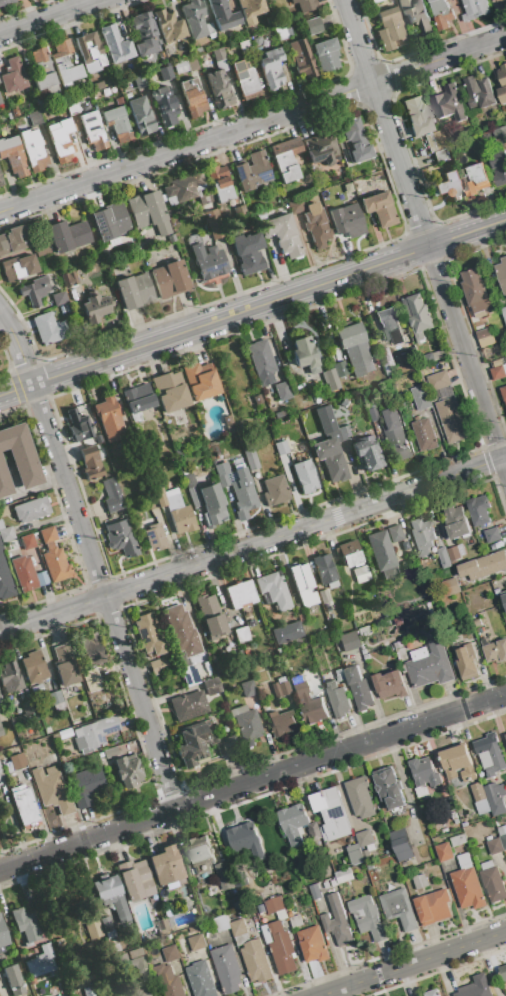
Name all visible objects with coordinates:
building: (5, 1)
building: (374, 1)
building: (502, 1)
building: (305, 4)
building: (251, 7)
building: (475, 9)
building: (442, 14)
building: (223, 15)
building: (416, 15)
road: (46, 16)
building: (194, 18)
building: (312, 25)
building: (168, 26)
building: (389, 29)
building: (210, 30)
building: (144, 33)
building: (256, 41)
building: (115, 44)
building: (243, 45)
building: (198, 50)
building: (90, 52)
building: (218, 54)
building: (326, 54)
building: (301, 57)
building: (64, 63)
building: (192, 63)
building: (180, 66)
building: (42, 68)
building: (271, 68)
building: (165, 73)
building: (13, 76)
building: (245, 79)
building: (139, 82)
building: (97, 85)
building: (502, 85)
building: (219, 89)
building: (480, 93)
building: (192, 97)
building: (41, 103)
building: (450, 103)
building: (164, 105)
building: (72, 107)
building: (13, 110)
building: (8, 115)
building: (140, 115)
building: (417, 115)
building: (34, 117)
building: (117, 122)
road: (252, 122)
building: (92, 130)
building: (501, 135)
building: (60, 140)
building: (434, 140)
building: (356, 141)
building: (321, 149)
building: (32, 150)
building: (13, 155)
building: (440, 155)
building: (286, 158)
building: (425, 160)
building: (499, 168)
building: (252, 170)
building: (474, 180)
building: (1, 181)
building: (219, 183)
building: (184, 185)
building: (447, 186)
building: (295, 205)
building: (379, 208)
building: (173, 211)
building: (148, 212)
building: (347, 220)
building: (110, 221)
building: (214, 223)
building: (316, 225)
road: (466, 232)
building: (282, 234)
building: (67, 235)
road: (423, 236)
building: (13, 239)
building: (168, 239)
building: (41, 248)
building: (248, 252)
building: (208, 261)
building: (18, 267)
building: (502, 273)
building: (68, 278)
building: (169, 278)
building: (34, 290)
building: (133, 290)
building: (476, 292)
building: (59, 298)
building: (95, 307)
building: (504, 313)
building: (418, 316)
road: (213, 320)
building: (389, 325)
building: (47, 328)
building: (485, 338)
building: (353, 344)
building: (303, 352)
building: (438, 356)
building: (261, 361)
building: (504, 361)
building: (505, 368)
building: (498, 373)
building: (334, 374)
building: (439, 381)
building: (200, 382)
building: (282, 390)
building: (169, 391)
building: (504, 394)
building: (138, 398)
building: (257, 398)
building: (421, 398)
building: (401, 406)
building: (374, 412)
building: (429, 412)
building: (451, 417)
building: (110, 418)
building: (325, 419)
building: (77, 426)
building: (344, 432)
building: (395, 435)
building: (425, 436)
building: (381, 437)
building: (280, 447)
building: (368, 453)
building: (20, 454)
building: (250, 458)
building: (330, 459)
building: (91, 465)
building: (304, 476)
building: (4, 480)
building: (237, 487)
building: (191, 489)
building: (274, 490)
building: (111, 495)
building: (159, 496)
building: (212, 504)
building: (152, 506)
building: (31, 509)
building: (3, 511)
building: (479, 511)
building: (179, 512)
building: (456, 523)
building: (1, 524)
building: (394, 533)
building: (6, 534)
building: (422, 536)
building: (492, 536)
building: (154, 537)
building: (120, 538)
building: (22, 543)
road: (253, 544)
building: (1, 545)
building: (349, 553)
building: (456, 554)
building: (381, 555)
building: (53, 557)
building: (444, 558)
road: (92, 561)
building: (483, 566)
building: (324, 570)
building: (22, 573)
building: (360, 574)
building: (4, 580)
building: (302, 585)
building: (452, 586)
building: (273, 590)
building: (240, 594)
building: (323, 596)
building: (504, 600)
building: (328, 608)
building: (211, 616)
building: (300, 617)
building: (477, 624)
building: (365, 628)
building: (181, 633)
building: (287, 633)
building: (241, 634)
building: (148, 635)
building: (347, 641)
building: (398, 645)
building: (91, 650)
building: (494, 651)
building: (467, 663)
building: (64, 665)
building: (158, 665)
building: (219, 666)
building: (429, 666)
building: (34, 667)
building: (189, 675)
building: (339, 675)
building: (9, 677)
building: (91, 679)
building: (245, 682)
building: (390, 684)
building: (211, 686)
building: (280, 687)
building: (36, 689)
building: (359, 689)
building: (54, 697)
building: (337, 700)
building: (188, 705)
building: (309, 706)
building: (23, 710)
building: (280, 721)
building: (246, 725)
building: (1, 730)
building: (95, 732)
building: (505, 736)
building: (202, 744)
building: (109, 752)
building: (490, 755)
building: (14, 763)
building: (457, 764)
building: (127, 771)
building: (424, 773)
building: (1, 774)
road: (253, 783)
building: (86, 786)
building: (51, 790)
building: (389, 790)
building: (478, 793)
building: (360, 798)
building: (495, 799)
building: (23, 805)
building: (331, 814)
building: (293, 824)
building: (502, 836)
building: (364, 839)
building: (247, 841)
building: (458, 841)
building: (401, 845)
building: (495, 847)
building: (444, 853)
building: (200, 855)
building: (355, 855)
building: (166, 866)
building: (224, 877)
building: (344, 877)
building: (135, 880)
building: (492, 882)
building: (420, 883)
building: (326, 885)
building: (467, 885)
building: (315, 892)
building: (110, 894)
building: (189, 901)
building: (274, 905)
building: (238, 906)
building: (433, 908)
building: (399, 910)
building: (167, 912)
building: (368, 919)
building: (296, 922)
building: (337, 922)
building: (222, 924)
building: (24, 925)
building: (107, 927)
building: (164, 928)
building: (238, 928)
building: (92, 929)
building: (2, 933)
building: (196, 943)
building: (313, 945)
building: (280, 948)
building: (170, 954)
building: (132, 961)
building: (40, 962)
building: (256, 962)
road: (410, 962)
building: (227, 969)
building: (503, 973)
building: (13, 980)
building: (201, 980)
building: (169, 981)
building: (476, 988)
building: (88, 990)
building: (138, 990)
building: (432, 993)

